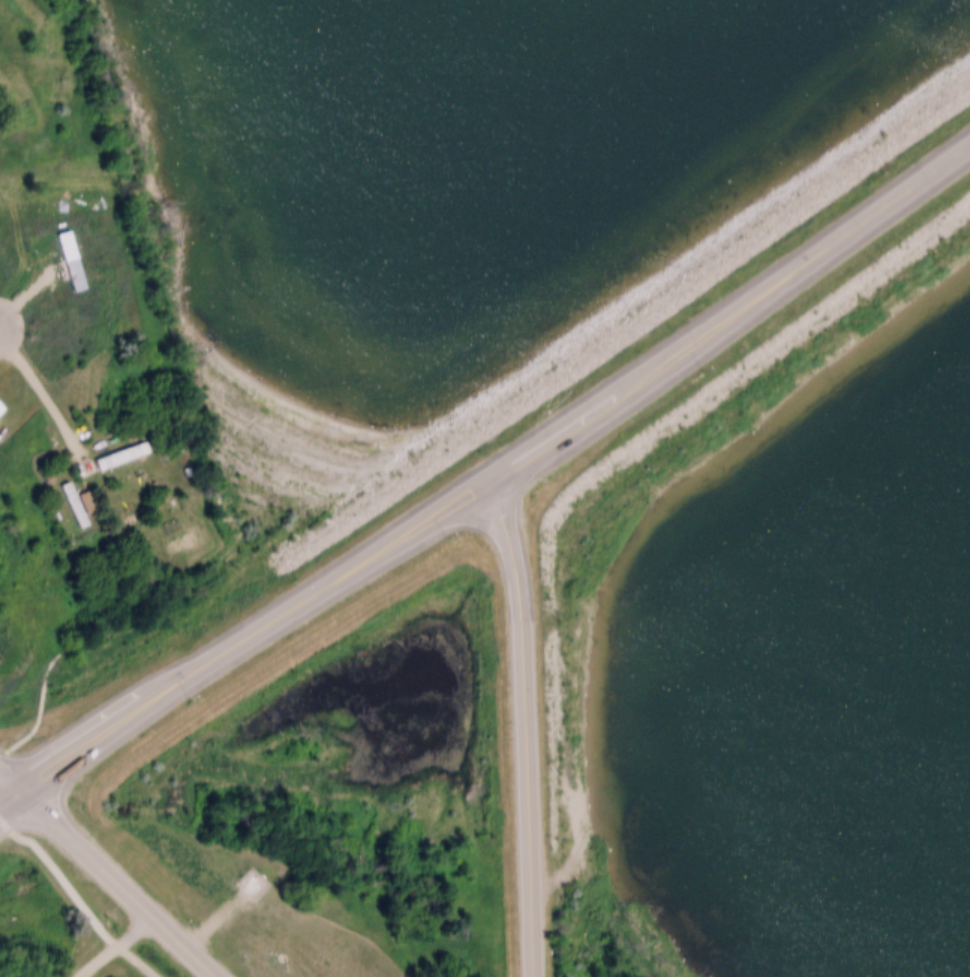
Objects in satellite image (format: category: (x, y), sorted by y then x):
road: (788, 244)
road: (47, 399)
building: (0, 408)
road: (552, 411)
building: (114, 446)
building: (227, 448)
building: (65, 495)
building: (75, 504)
road: (324, 571)
road: (36, 698)
road: (524, 711)
road: (84, 739)
road: (10, 774)
road: (10, 790)
building: (155, 875)
road: (123, 879)
road: (112, 944)

